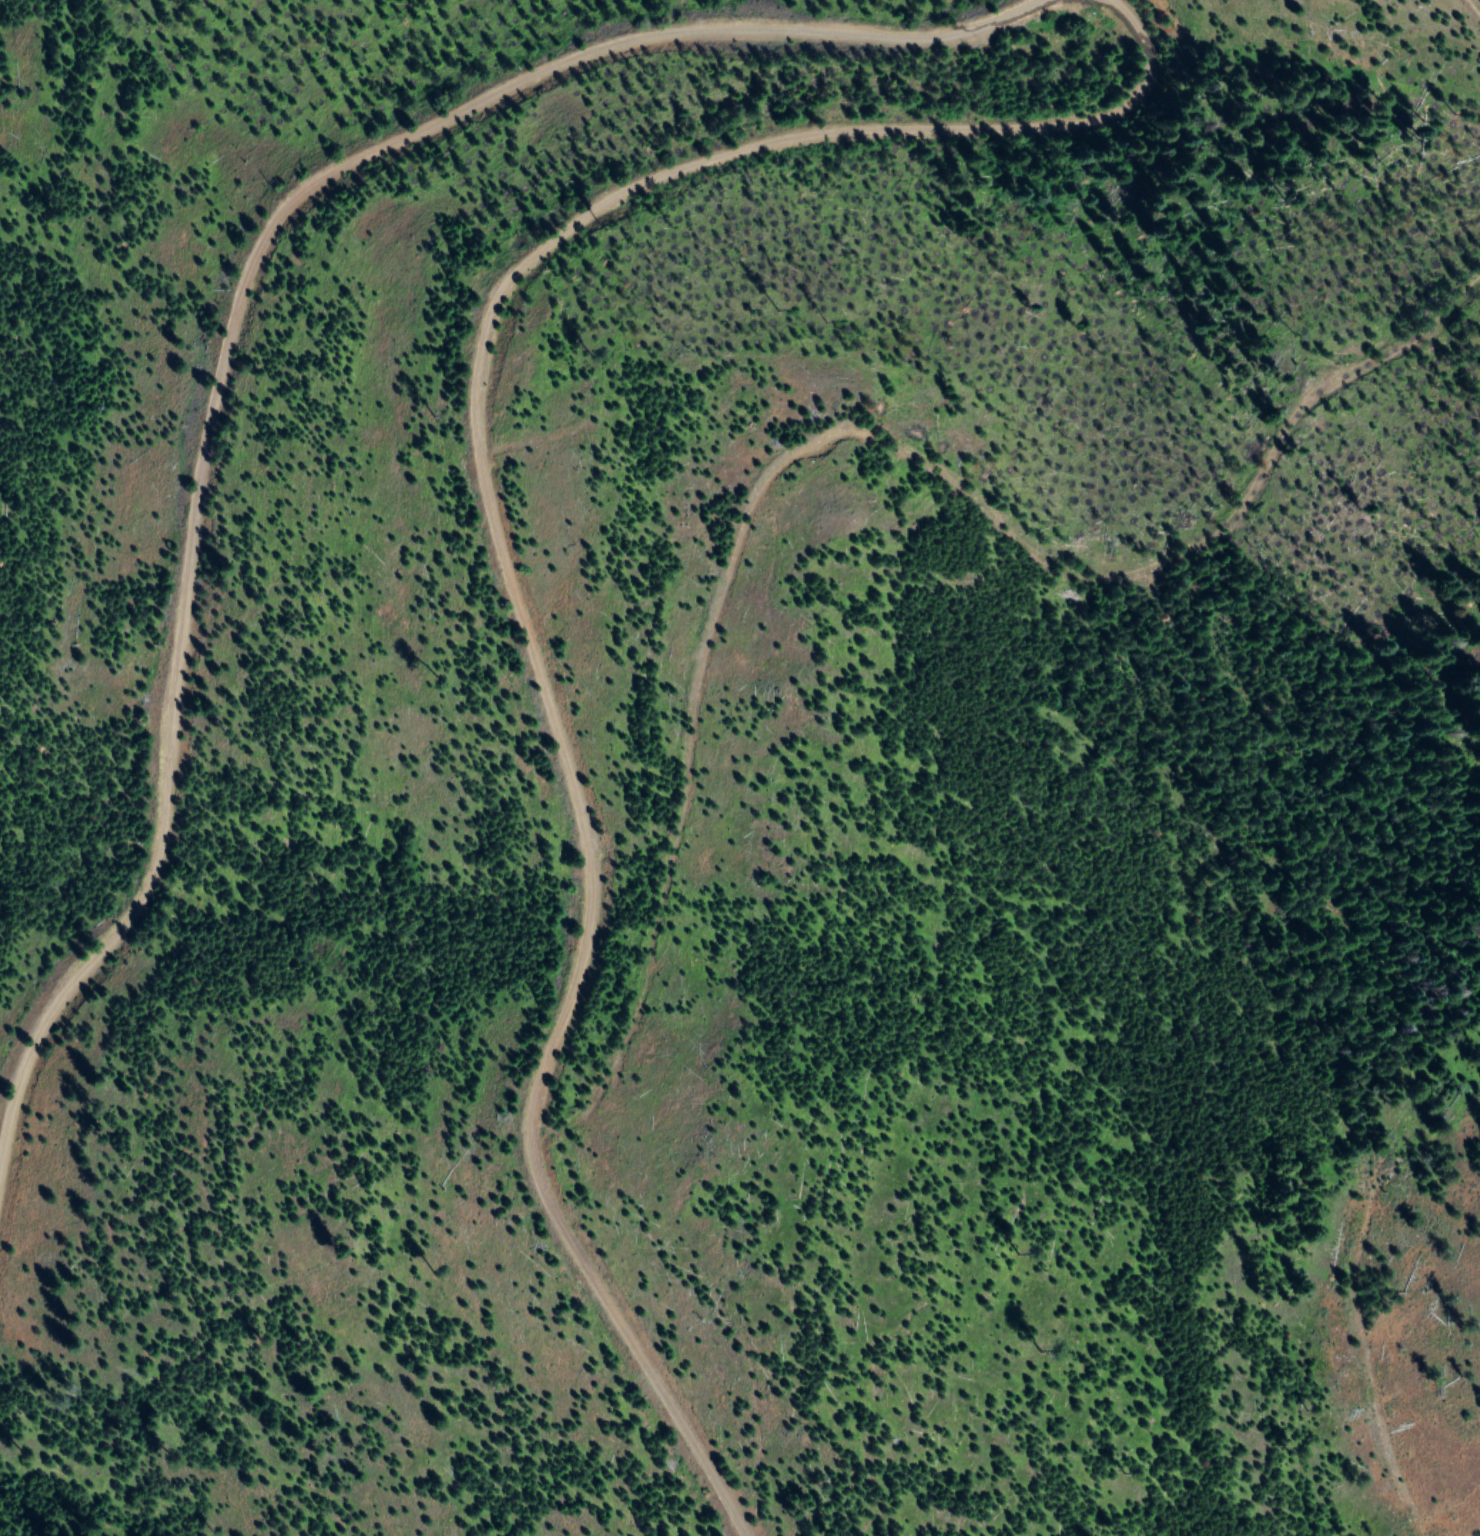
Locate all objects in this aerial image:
road: (1085, 27)
road: (228, 347)
road: (553, 659)

